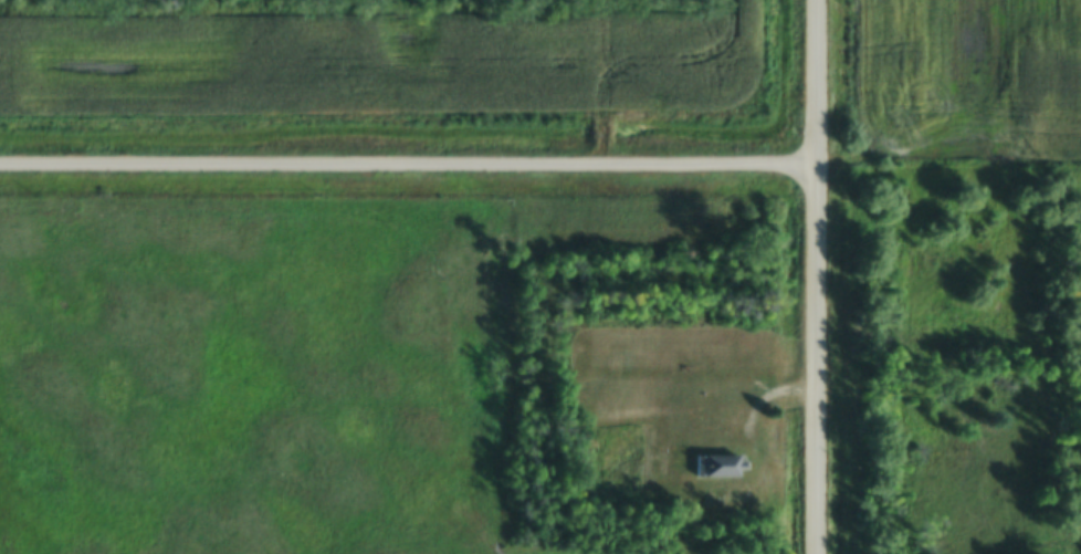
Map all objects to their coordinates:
road: (410, 164)
road: (821, 276)
road: (760, 418)
building: (717, 474)

